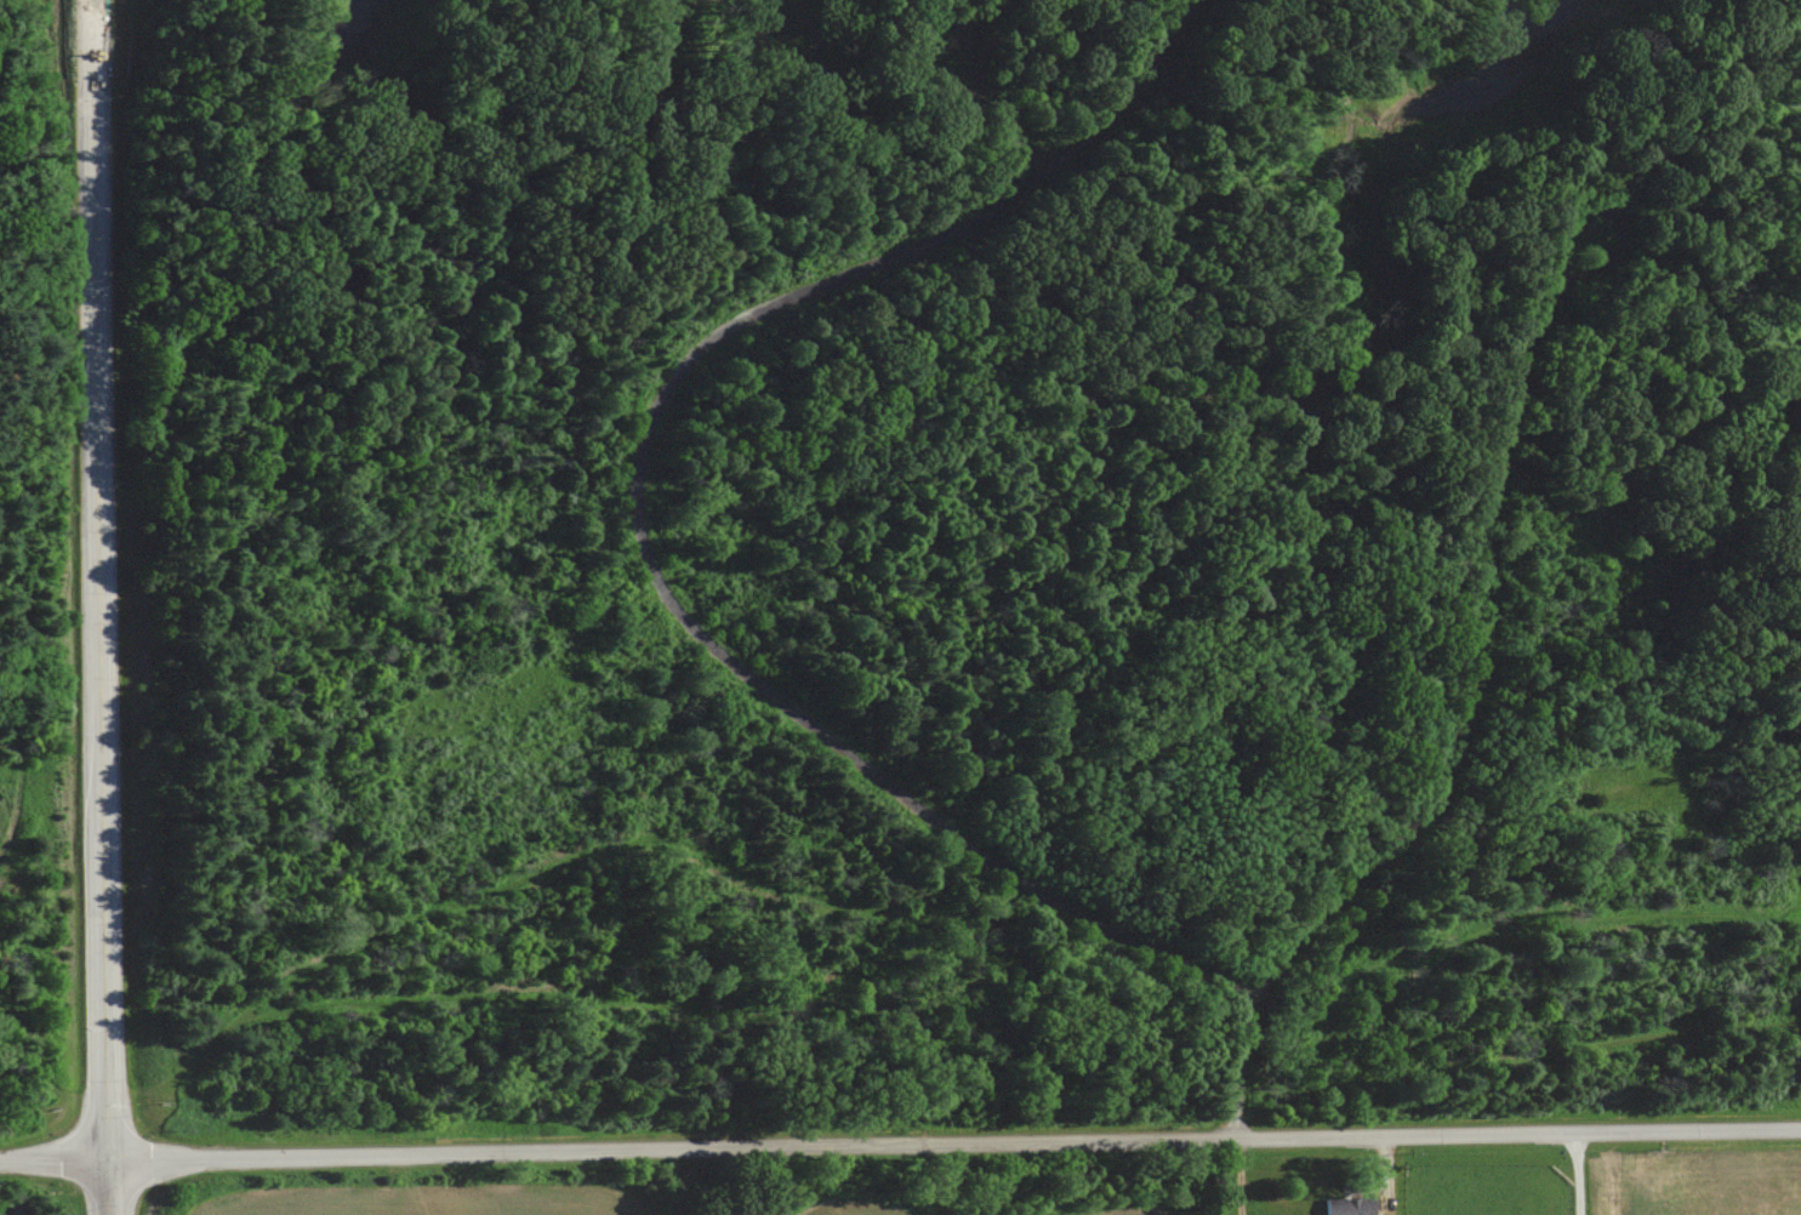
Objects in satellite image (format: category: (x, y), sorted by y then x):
road: (961, 27)
road: (1011, 131)
road: (1623, 235)
road: (638, 514)
road: (99, 607)
road: (1454, 751)
road: (1058, 942)
road: (1044, 974)
road: (16, 1000)
road: (136, 1101)
road: (953, 1143)
road: (52, 1159)
road: (1579, 1173)
road: (1242, 1176)
building: (1350, 1204)

